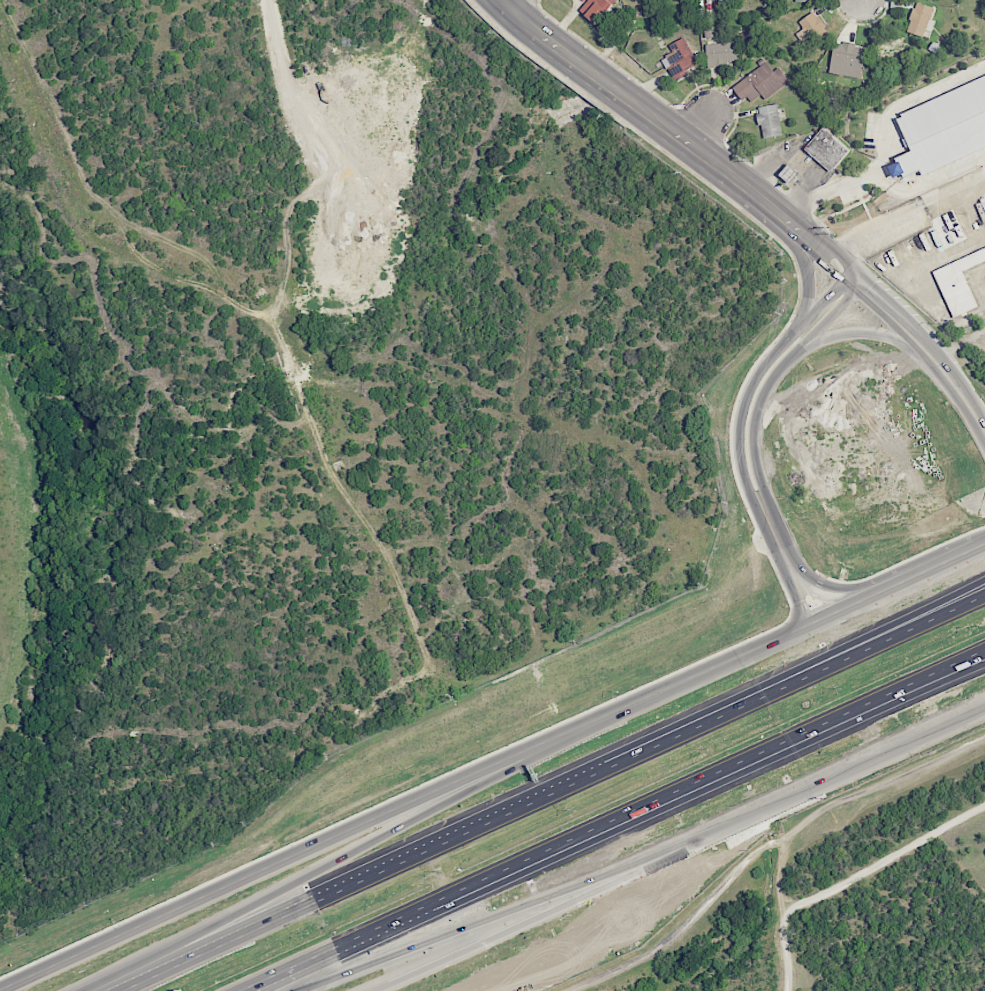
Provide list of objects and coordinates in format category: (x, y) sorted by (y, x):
building: (804, 0)
road: (860, 1)
road: (517, 5)
building: (596, 9)
building: (920, 20)
building: (815, 29)
building: (721, 53)
building: (680, 59)
building: (847, 59)
building: (761, 83)
road: (648, 112)
building: (769, 121)
road: (702, 125)
building: (944, 128)
road: (886, 141)
building: (827, 149)
road: (984, 155)
road: (785, 157)
building: (789, 173)
road: (927, 180)
road: (906, 218)
road: (806, 274)
road: (857, 281)
road: (861, 332)
road: (959, 344)
road: (954, 385)
road: (738, 435)
road: (752, 448)
road: (981, 547)
road: (922, 574)
road: (836, 612)
road: (984, 650)
road: (984, 650)
road: (792, 675)
road: (792, 682)
road: (806, 791)
road: (404, 809)
road: (814, 818)
road: (620, 821)
road: (881, 864)
road: (358, 881)
road: (292, 884)
road: (457, 929)
road: (498, 932)

